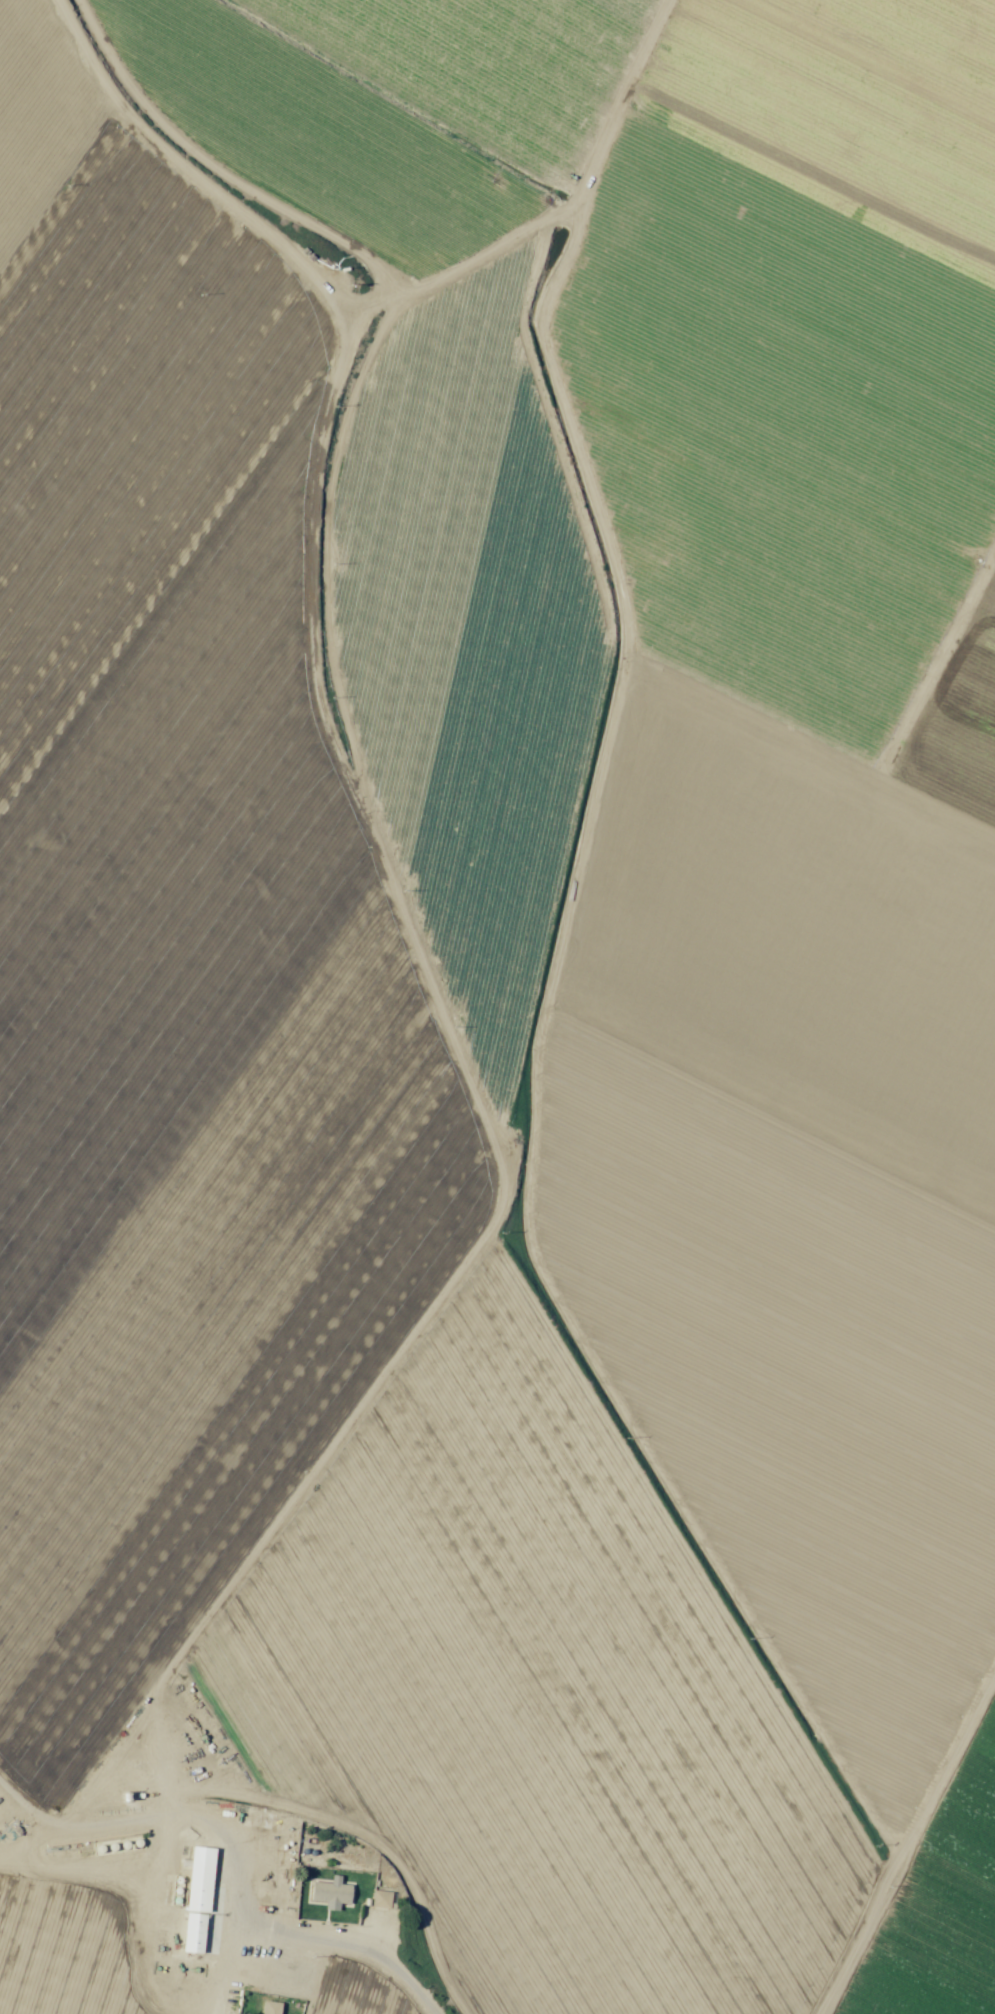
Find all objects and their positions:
building: (513, 192)
building: (494, 220)
road: (290, 1825)
building: (55, 1852)
building: (379, 1899)
building: (195, 1900)
building: (288, 1979)
building: (269, 2008)

